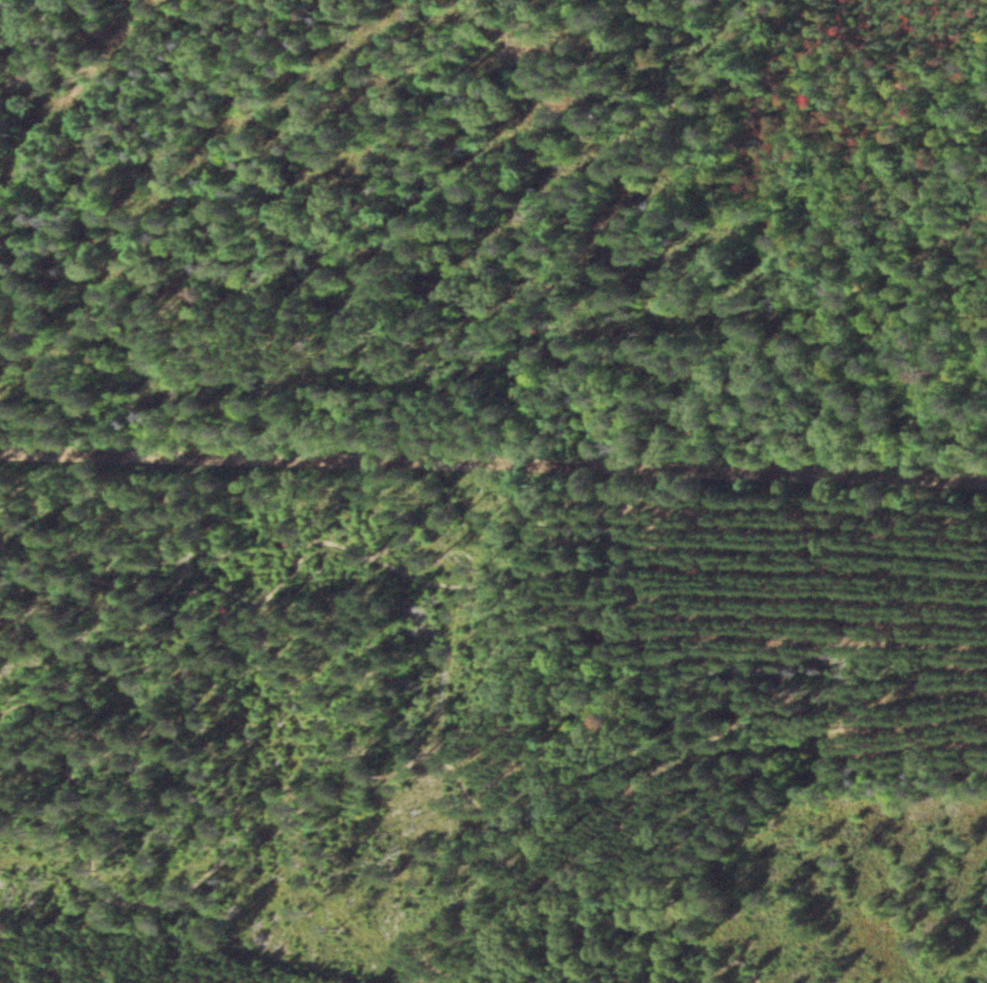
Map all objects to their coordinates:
road: (493, 460)
road: (485, 580)
road: (424, 769)
road: (728, 966)

